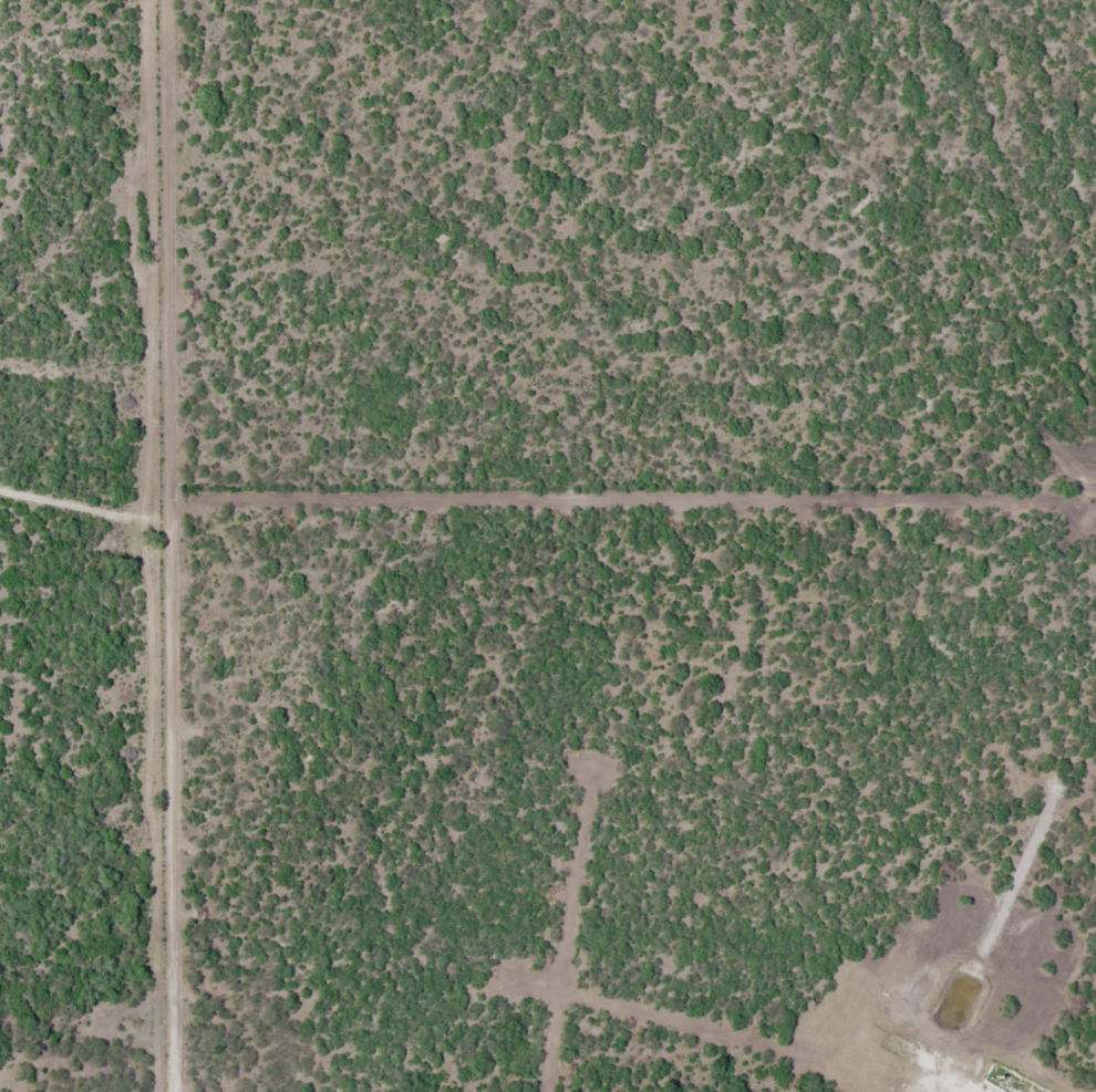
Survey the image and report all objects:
road: (955, 1086)

